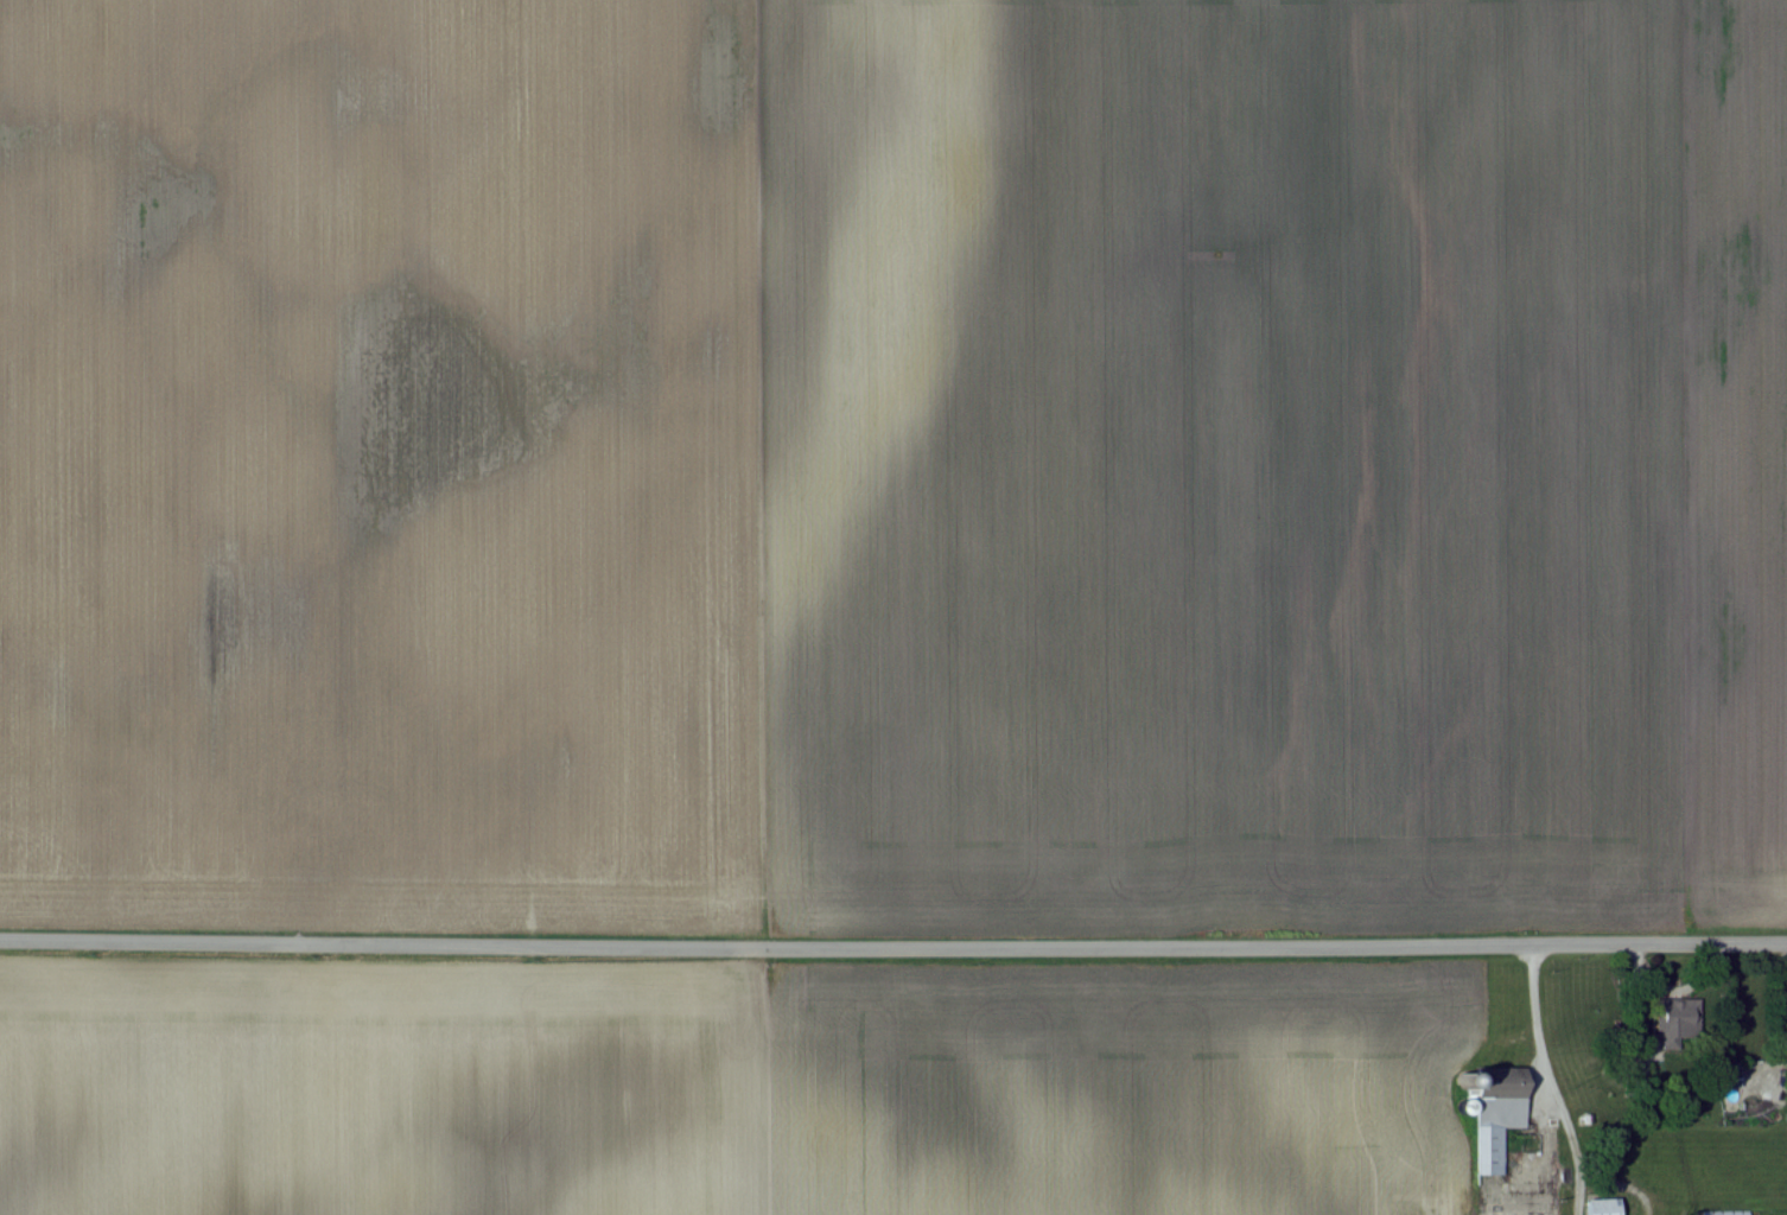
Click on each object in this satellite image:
road: (892, 950)
building: (1677, 1022)
road: (1540, 1044)
building: (1496, 1112)
building: (1603, 1206)
building: (1726, 1211)

